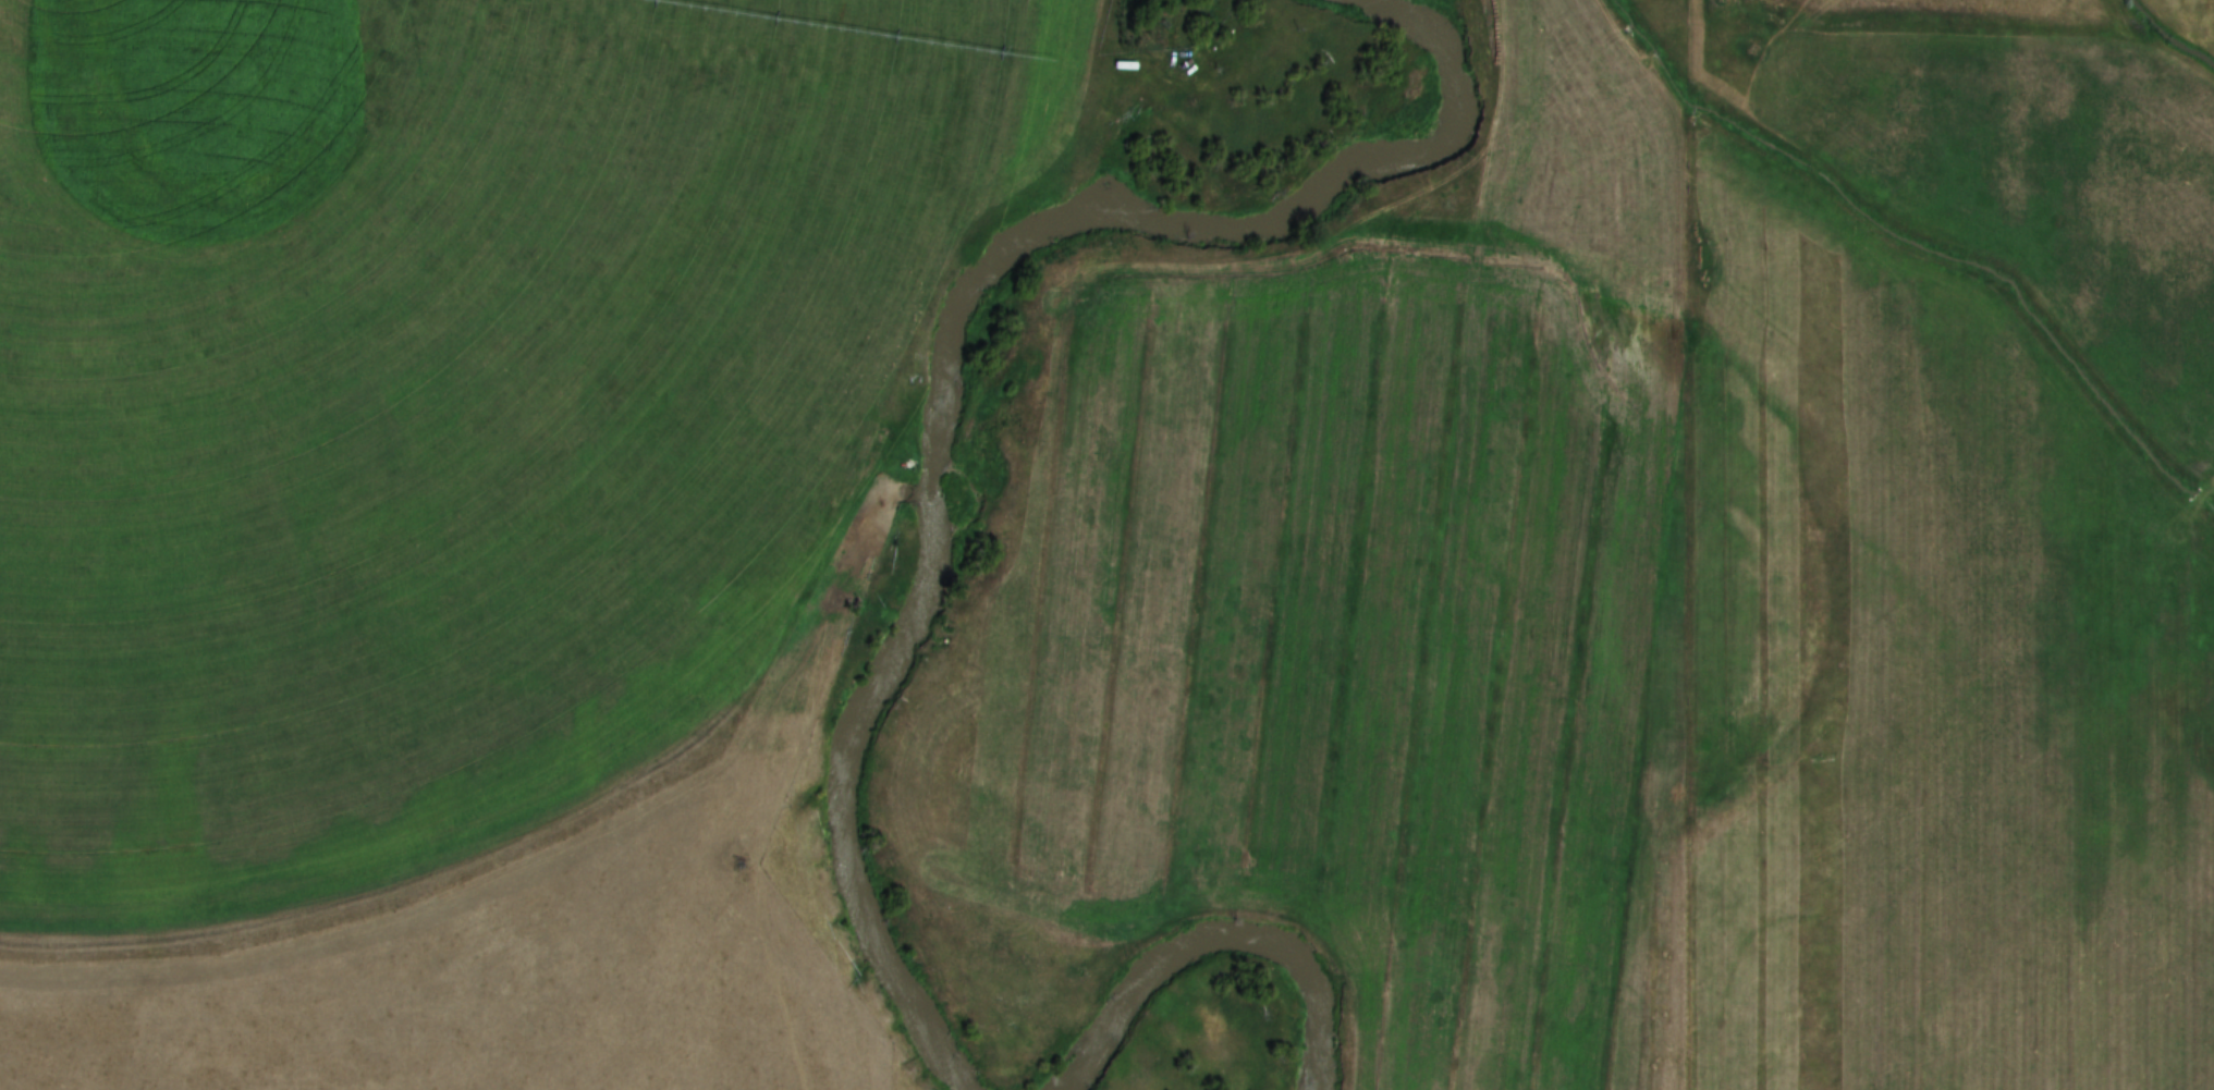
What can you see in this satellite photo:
airport runway: (272, 269)
river: (949, 350)
river: (1216, 947)

